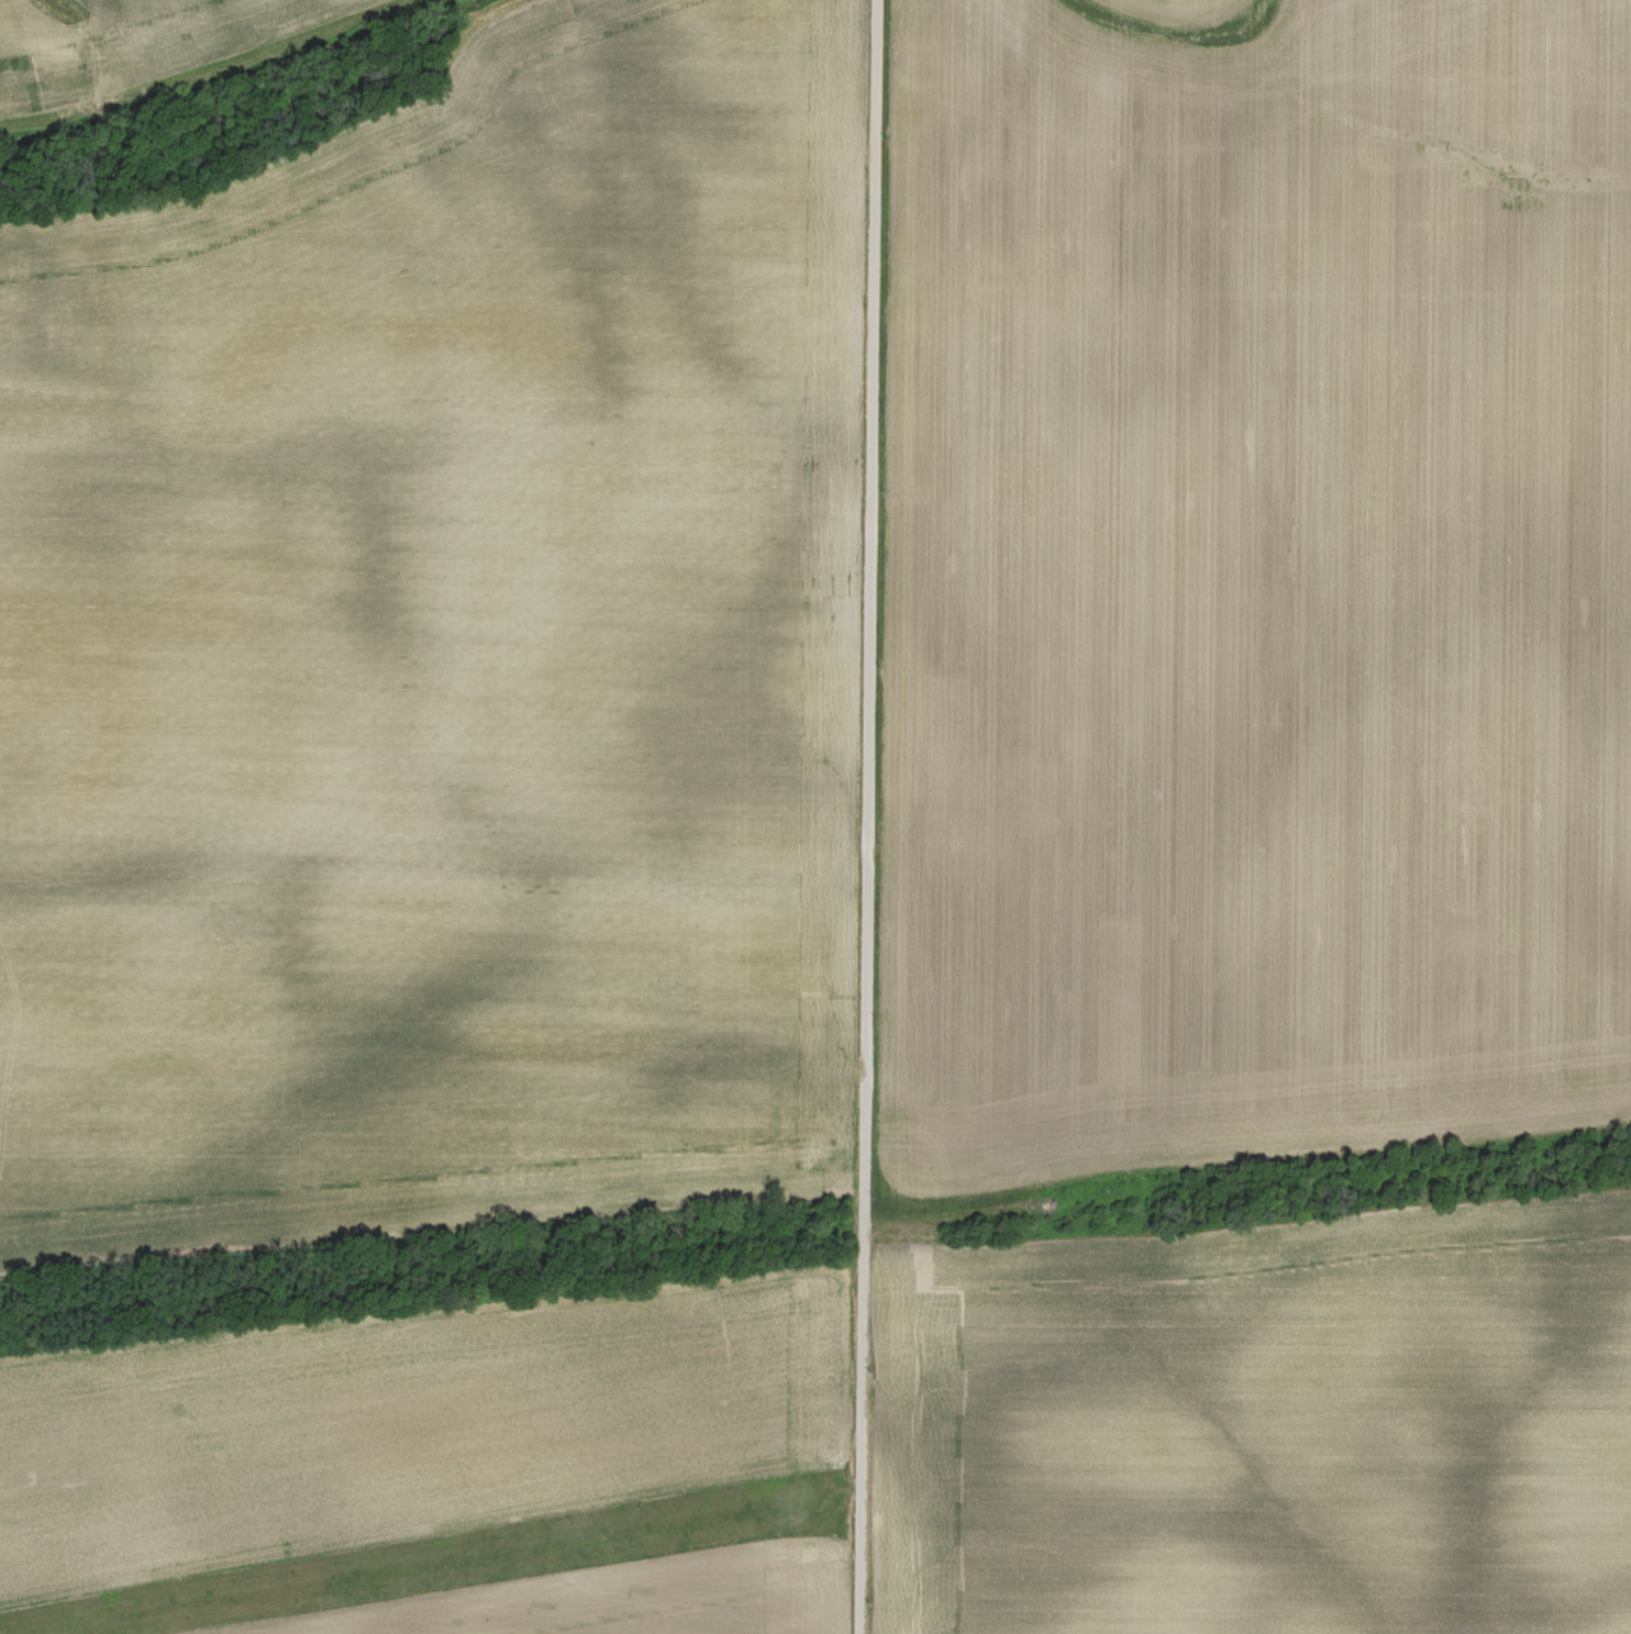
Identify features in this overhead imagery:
road: (873, 816)
airport runway: (423, 1569)

